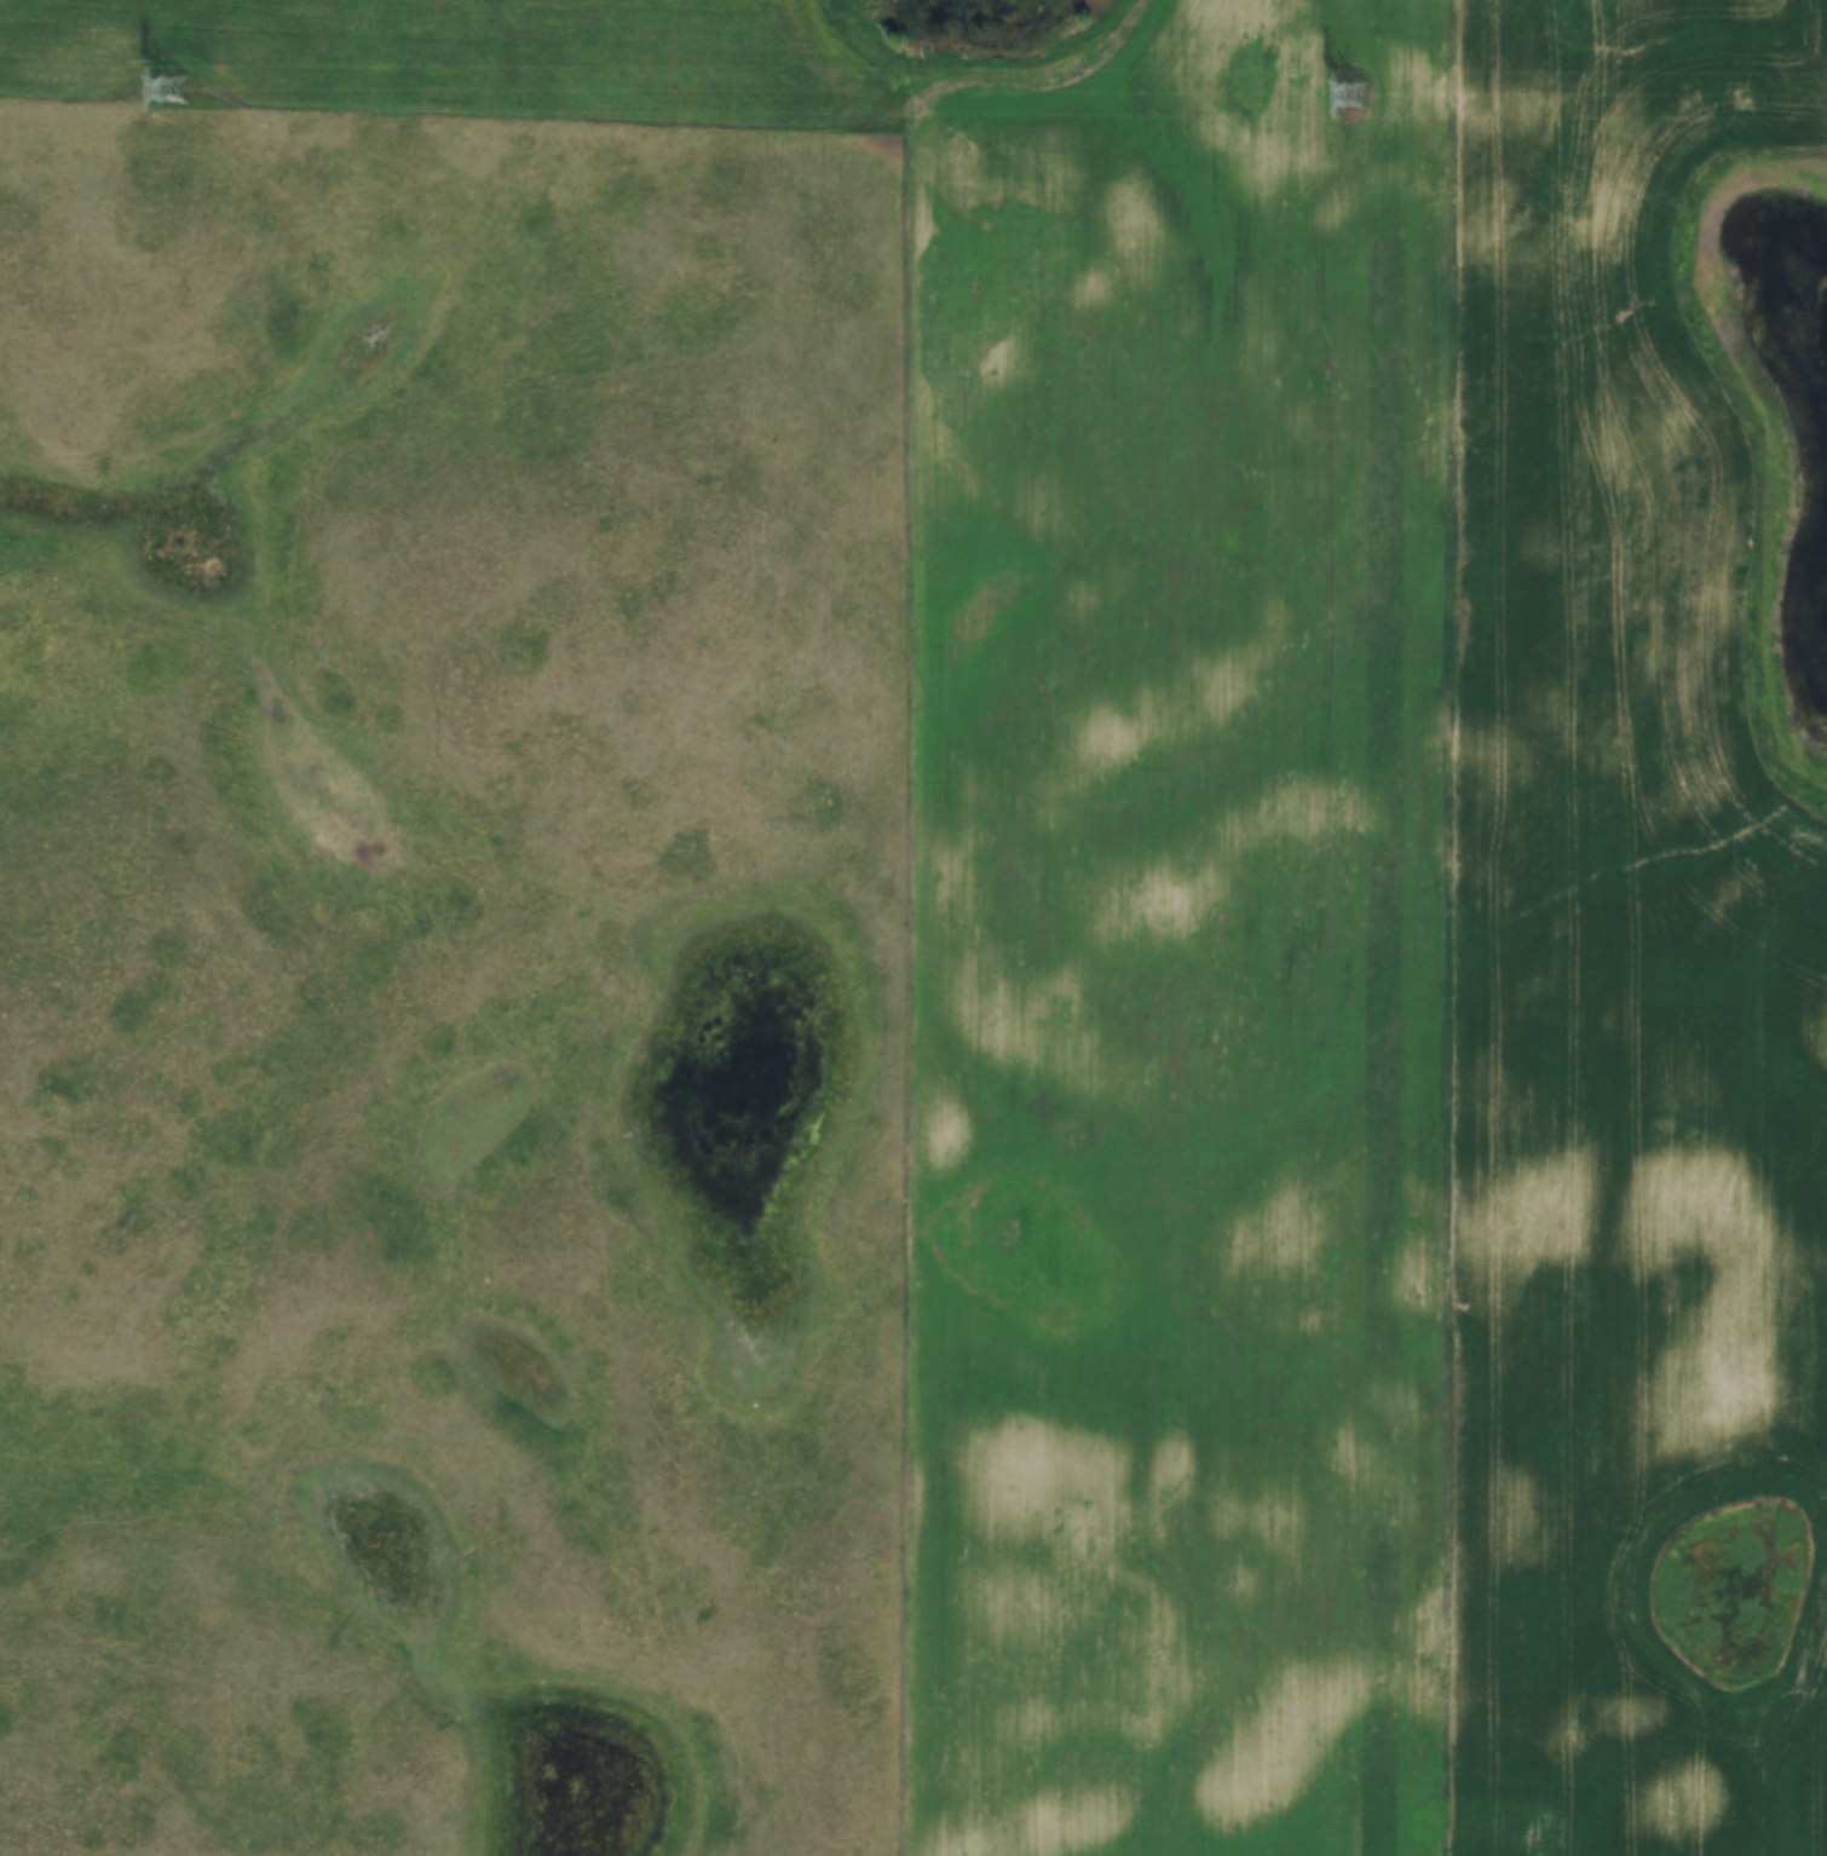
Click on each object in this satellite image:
power tower: (179, 93)
power tower: (1353, 96)

